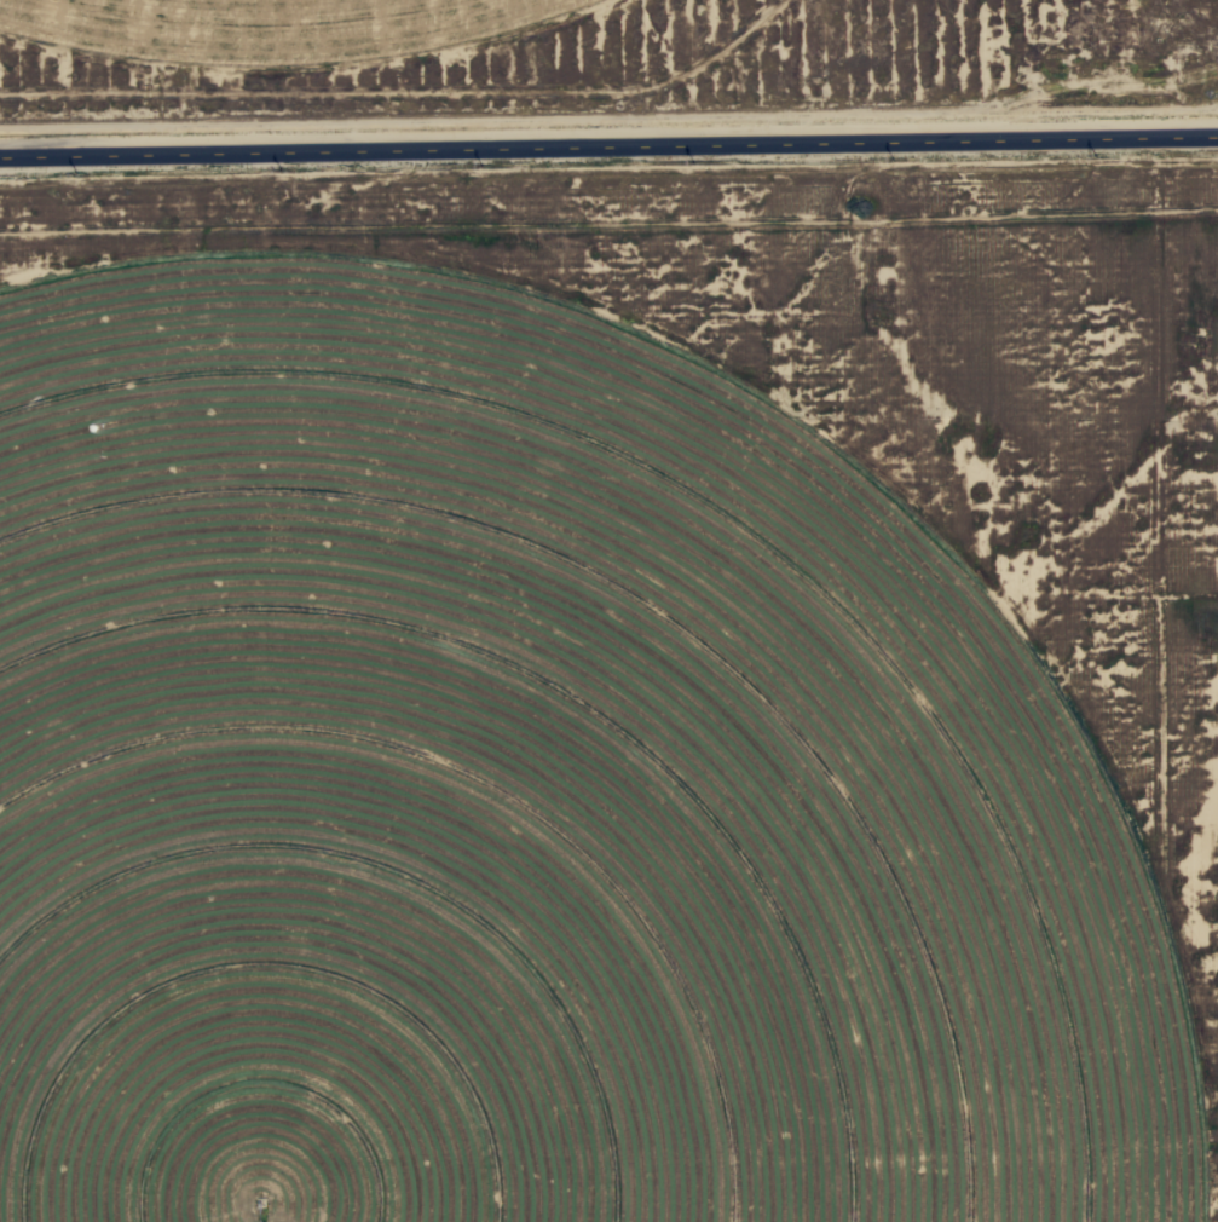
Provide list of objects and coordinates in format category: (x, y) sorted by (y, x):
crop: (249, 21)
road: (608, 144)
crop: (520, 799)

